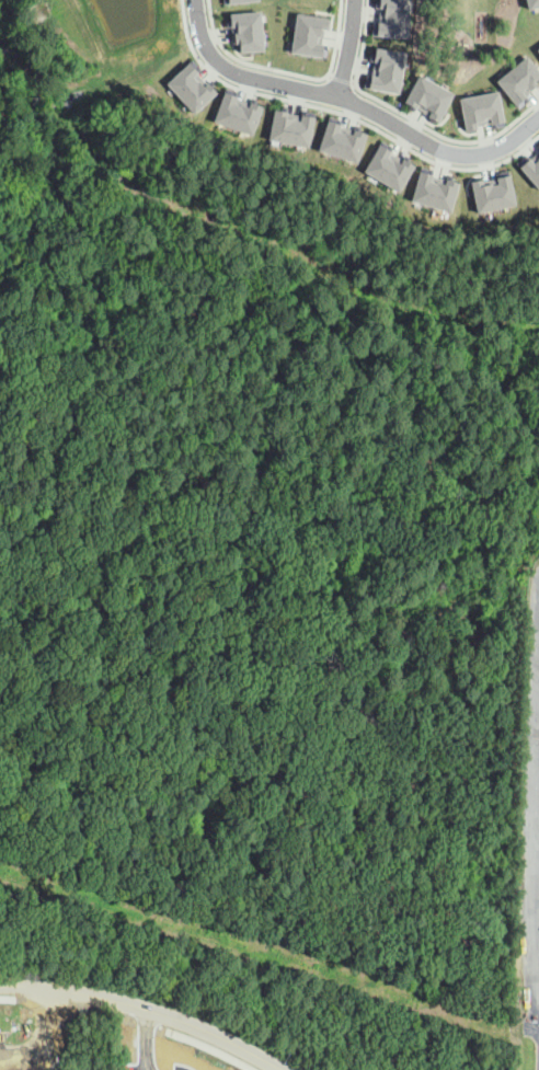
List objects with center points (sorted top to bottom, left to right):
building: (240, 1)
building: (532, 4)
building: (394, 16)
building: (249, 28)
building: (309, 33)
road: (348, 48)
building: (538, 49)
building: (385, 68)
road: (286, 71)
road: (330, 76)
building: (519, 79)
road: (341, 80)
road: (354, 82)
building: (192, 87)
building: (427, 96)
road: (354, 101)
building: (482, 110)
road: (342, 112)
building: (236, 114)
road: (409, 116)
building: (289, 128)
building: (341, 141)
building: (389, 168)
building: (531, 169)
building: (434, 192)
building: (491, 195)
parking lot: (534, 783)
road: (147, 1010)
road: (133, 1017)

